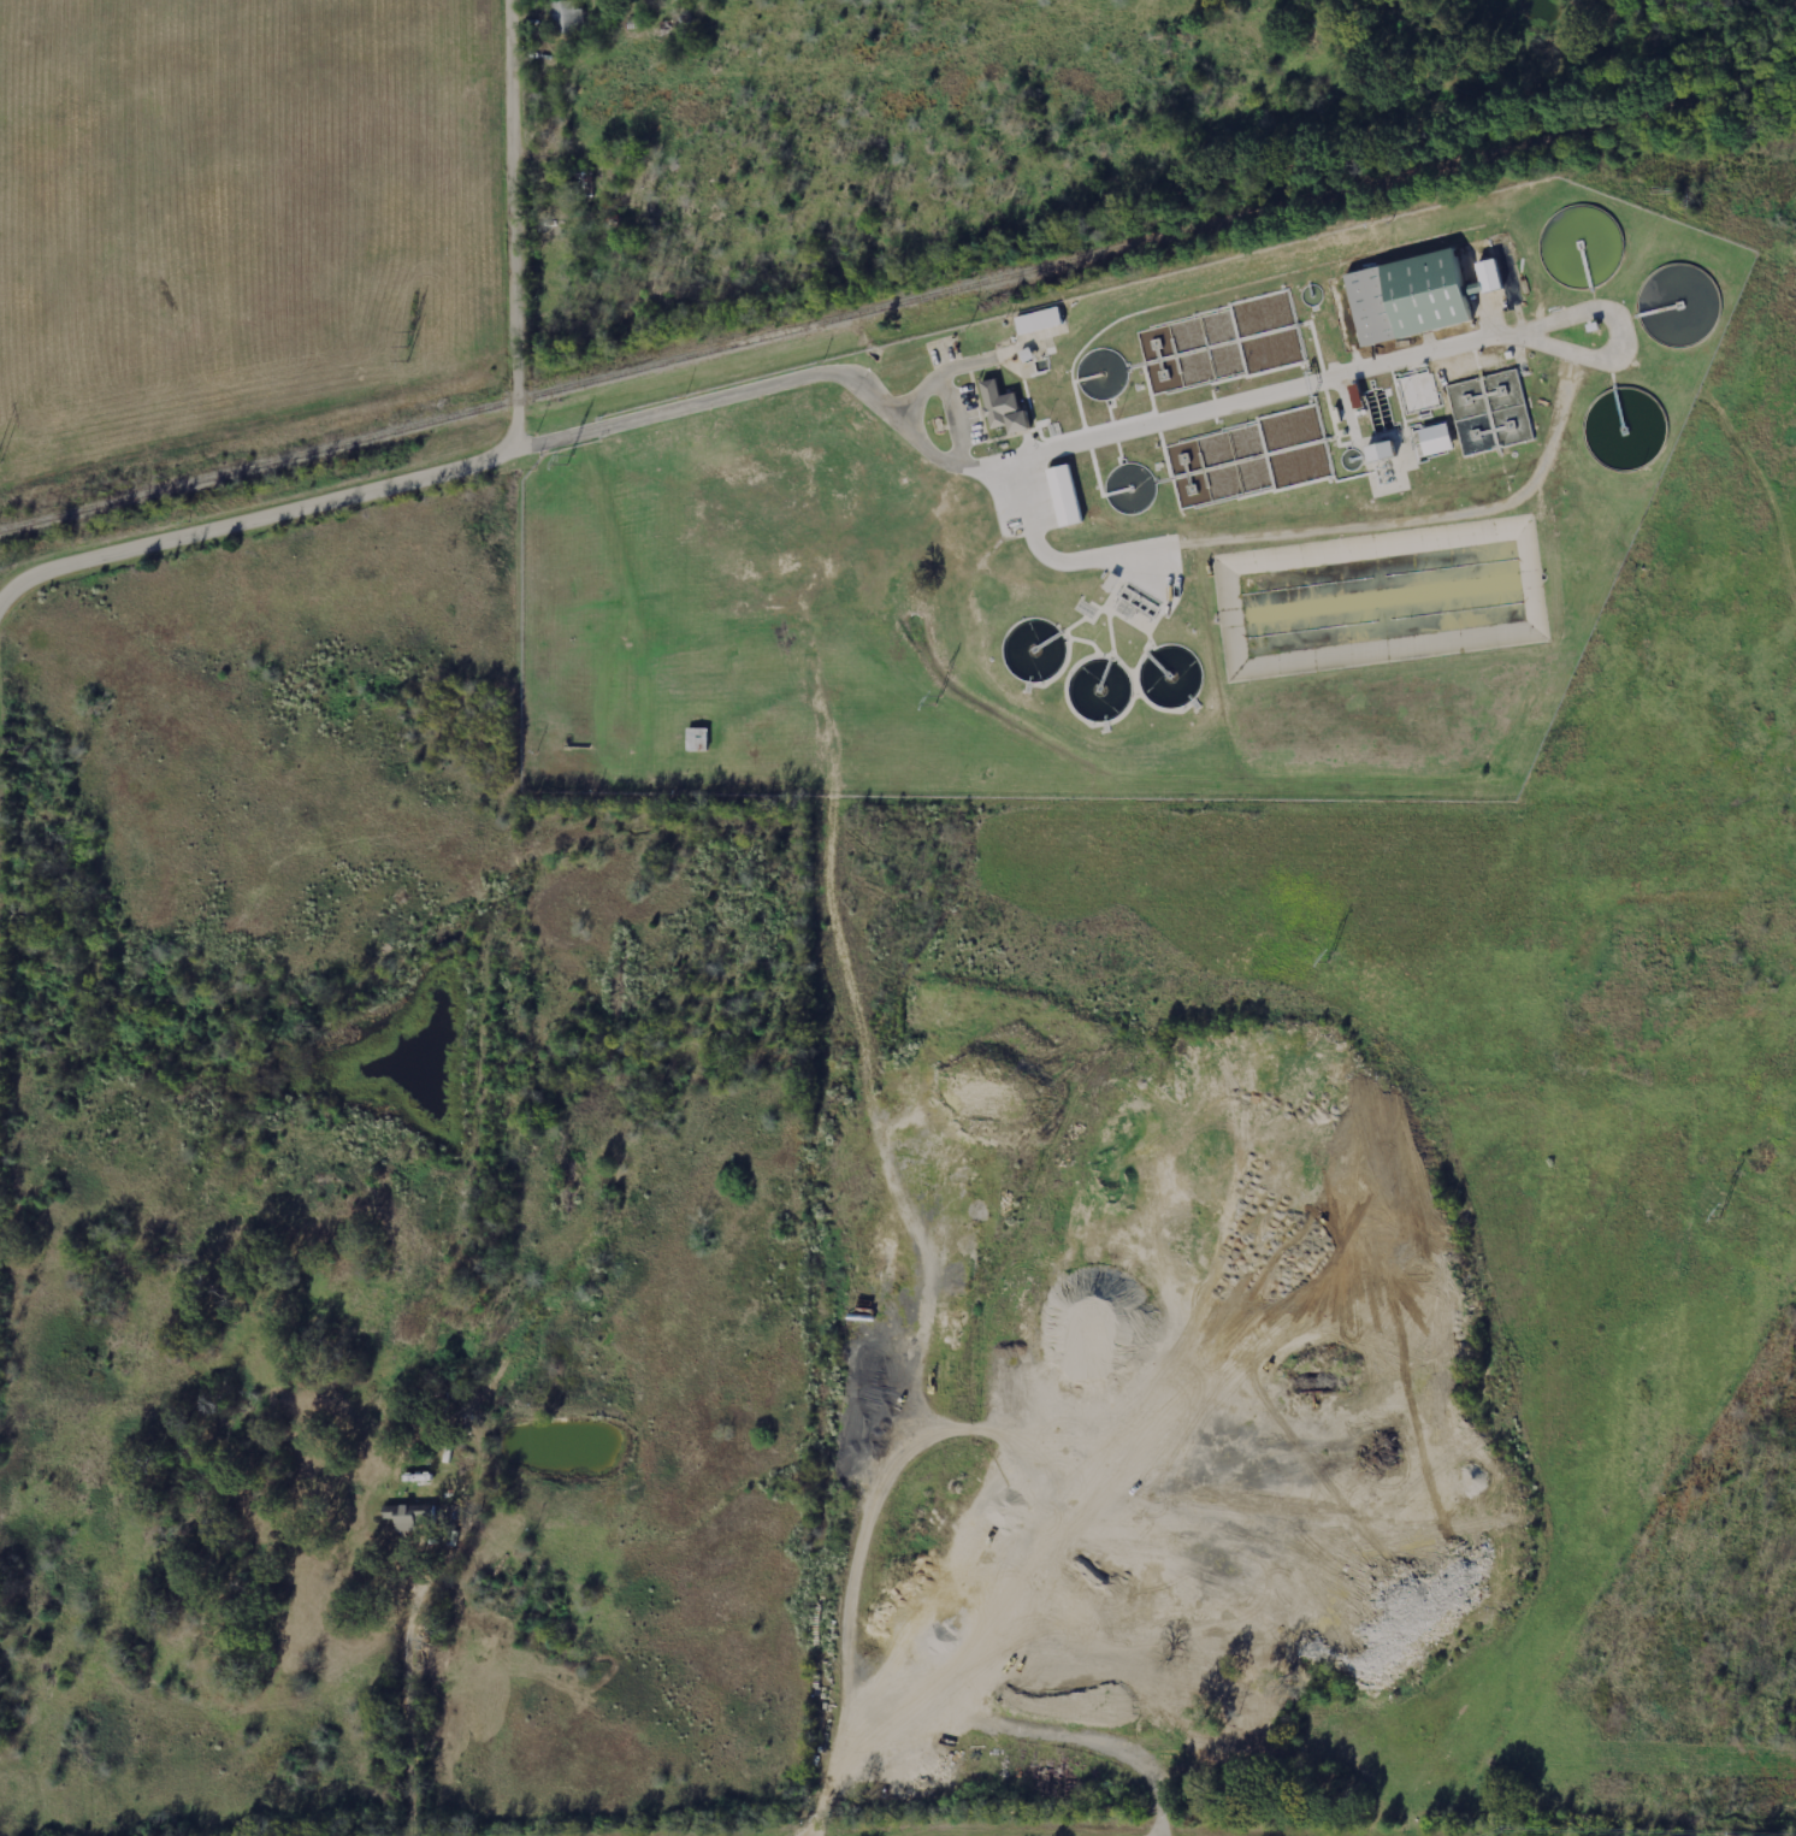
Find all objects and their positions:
road: (518, 201)
building: (1490, 274)
building: (1512, 279)
building: (1411, 296)
railway: (898, 306)
building: (1040, 320)
building: (1028, 354)
building: (905, 373)
road: (770, 378)
building: (1419, 389)
building: (1005, 408)
road: (512, 427)
building: (1434, 439)
building: (1382, 450)
building: (1065, 495)
wastewater plant: (1138, 527)
building: (397, 1511)

